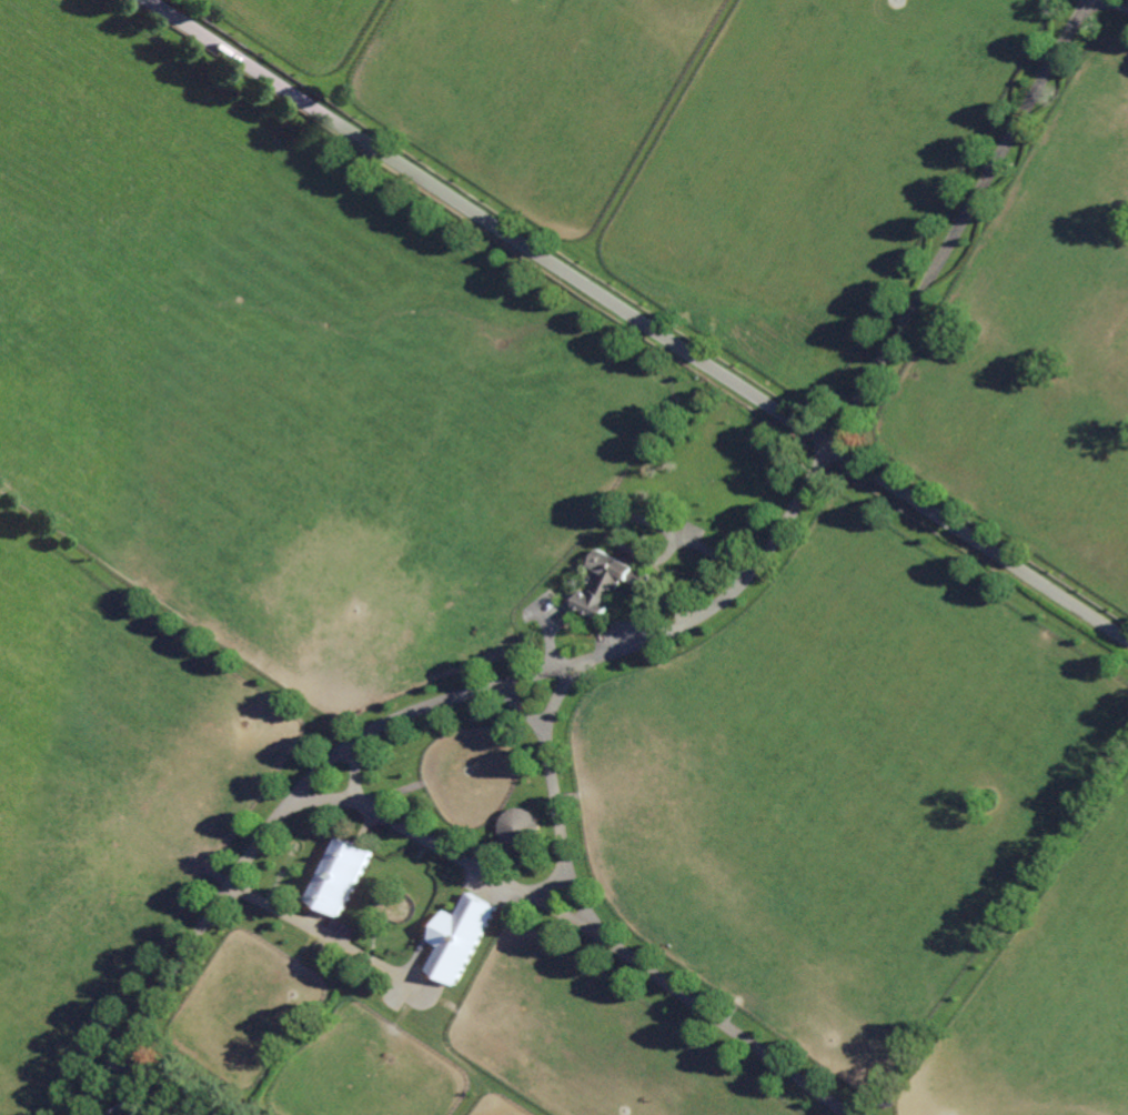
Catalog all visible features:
road: (1120, 4)
road: (959, 221)
road: (636, 319)
road: (754, 566)
building: (608, 582)
road: (355, 767)
road: (292, 798)
road: (432, 841)
building: (345, 874)
building: (451, 918)
road: (611, 938)
road: (167, 1083)

